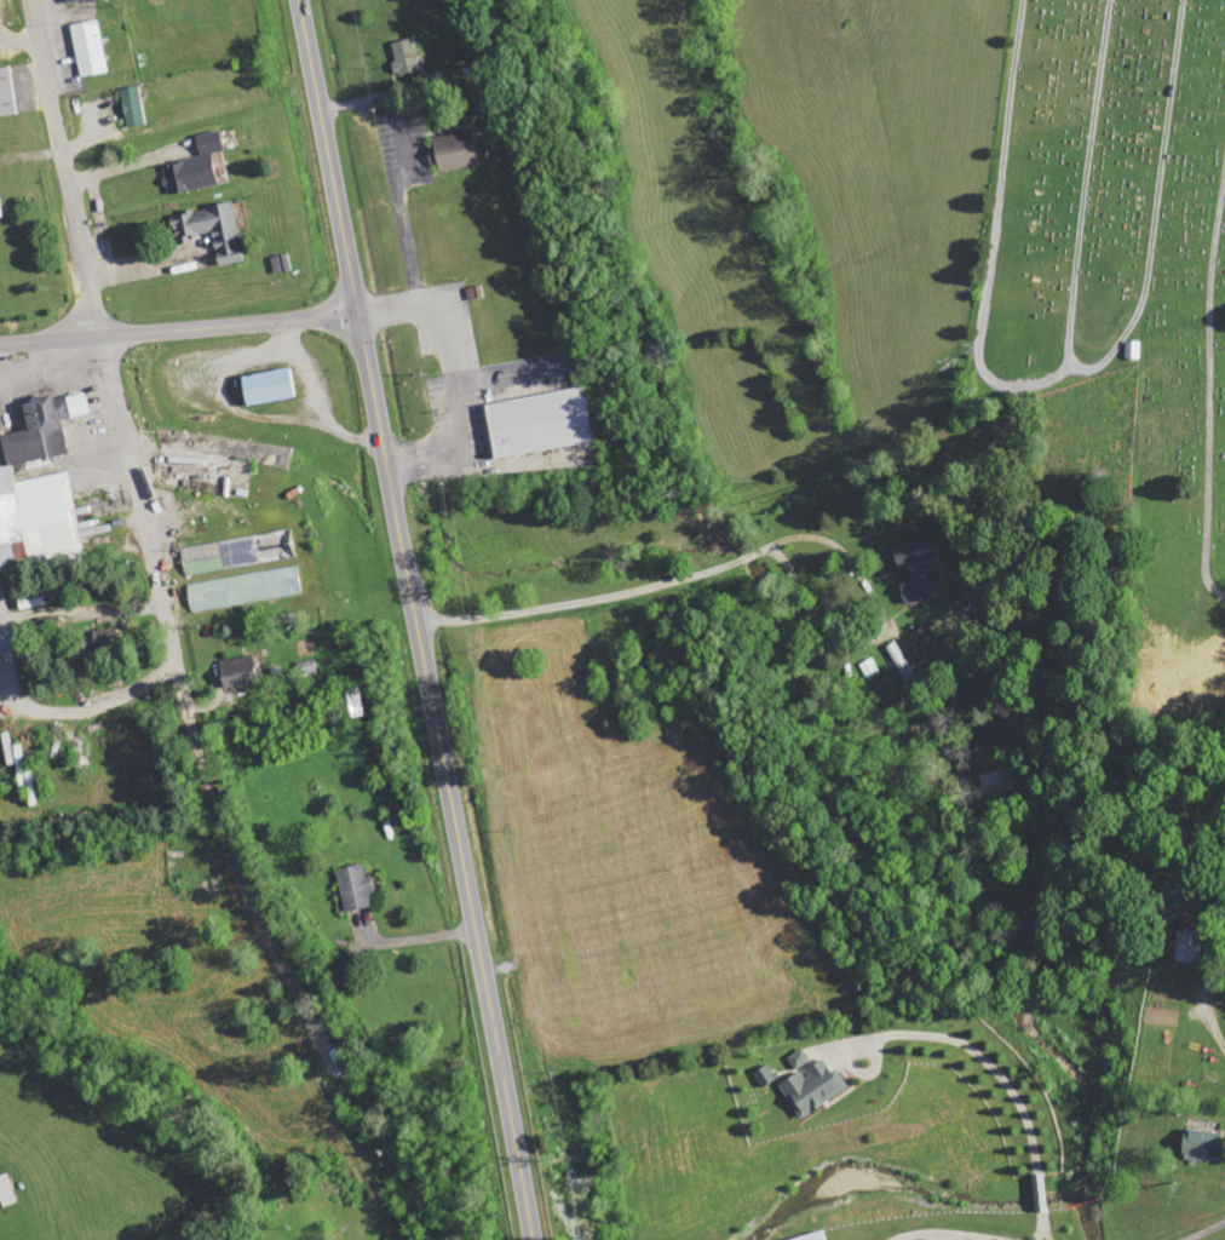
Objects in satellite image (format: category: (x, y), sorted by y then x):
building: (75, 1)
building: (90, 47)
building: (406, 57)
building: (6, 93)
building: (133, 107)
building: (454, 151)
road: (328, 156)
building: (195, 166)
road: (65, 167)
road: (1160, 189)
building: (0, 209)
building: (212, 230)
building: (282, 264)
park: (1122, 276)
road: (230, 323)
road: (51, 338)
building: (1133, 350)
road: (1081, 368)
building: (268, 386)
road: (1022, 387)
road: (1212, 397)
building: (540, 423)
building: (39, 488)
building: (919, 573)
building: (246, 590)
building: (105, 639)
building: (901, 662)
building: (238, 672)
road: (182, 689)
building: (353, 704)
road: (447, 776)
building: (356, 889)
building: (1192, 901)
building: (1189, 946)
road: (322, 1035)
building: (800, 1058)
building: (765, 1075)
building: (815, 1089)
road: (338, 1119)
building: (1200, 1144)
building: (7, 1190)
building: (1040, 1193)
building: (813, 1236)

